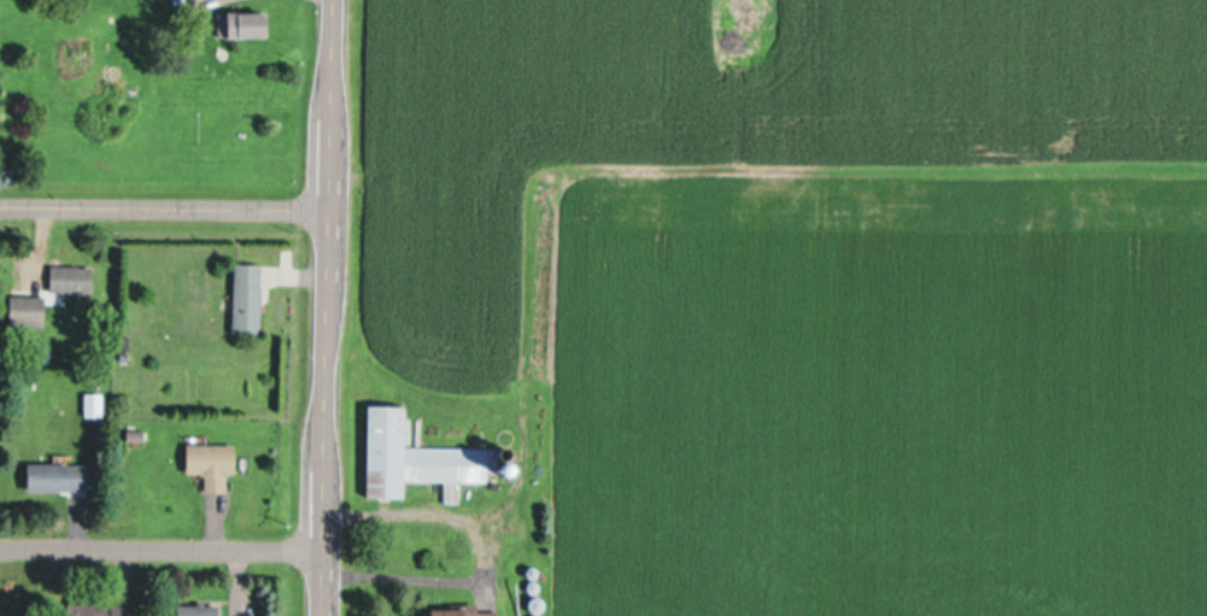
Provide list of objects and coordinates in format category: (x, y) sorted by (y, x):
building: (240, 24)
road: (162, 207)
building: (66, 278)
building: (241, 299)
road: (322, 307)
building: (20, 310)
building: (417, 458)
building: (206, 464)
building: (53, 476)
road: (158, 551)
building: (94, 610)
building: (194, 610)
building: (452, 611)

